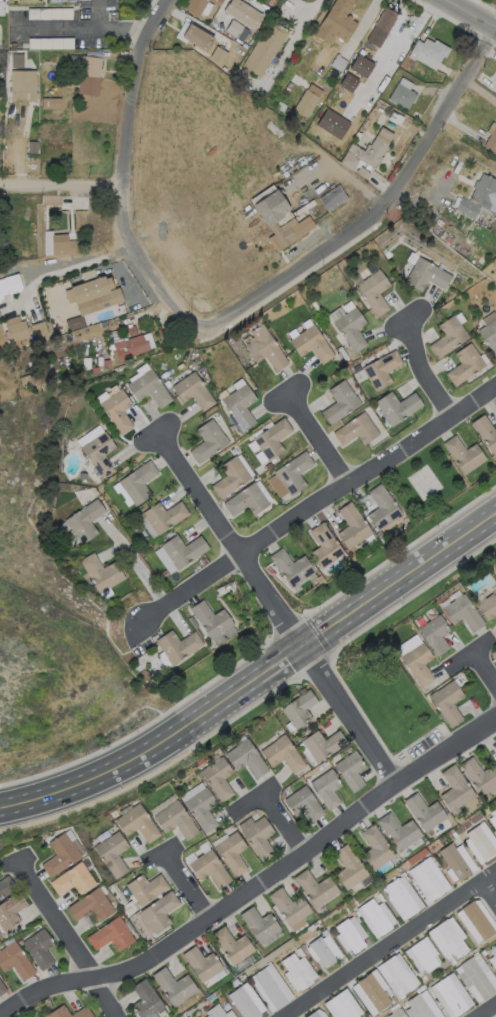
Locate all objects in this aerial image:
building: (74, 1)
building: (55, 2)
building: (216, 2)
building: (272, 2)
building: (196, 6)
building: (1, 8)
road: (471, 13)
building: (49, 14)
building: (245, 15)
road: (301, 25)
road: (109, 27)
building: (336, 27)
road: (61, 29)
building: (234, 29)
building: (381, 35)
building: (198, 38)
building: (51, 44)
building: (13, 46)
building: (312, 48)
building: (264, 50)
building: (429, 51)
building: (219, 56)
building: (18, 61)
building: (338, 63)
building: (46, 65)
building: (89, 70)
building: (351, 70)
building: (333, 73)
building: (494, 76)
building: (495, 81)
building: (23, 85)
building: (368, 86)
building: (247, 88)
road: (480, 91)
building: (68, 94)
building: (402, 97)
building: (60, 101)
building: (308, 101)
building: (281, 107)
building: (55, 113)
building: (491, 141)
building: (33, 148)
road: (19, 149)
building: (369, 151)
building: (362, 173)
road: (121, 176)
road: (60, 185)
building: (330, 196)
building: (478, 197)
building: (304, 199)
building: (51, 200)
building: (85, 206)
road: (385, 213)
building: (271, 218)
building: (446, 240)
building: (61, 245)
building: (387, 255)
road: (73, 266)
building: (426, 276)
building: (333, 285)
building: (3, 288)
building: (84, 292)
building: (374, 293)
building: (74, 322)
building: (38, 329)
building: (351, 330)
building: (18, 333)
building: (448, 337)
building: (489, 337)
building: (312, 345)
building: (131, 348)
building: (265, 349)
building: (342, 354)
building: (106, 363)
building: (86, 364)
building: (465, 365)
building: (382, 371)
road: (424, 373)
building: (27, 381)
building: (150, 389)
building: (193, 392)
building: (105, 393)
building: (340, 403)
building: (240, 407)
building: (397, 407)
building: (118, 412)
building: (356, 431)
building: (486, 433)
road: (316, 437)
building: (272, 439)
building: (208, 442)
building: (99, 454)
building: (463, 455)
building: (268, 466)
building: (293, 474)
building: (231, 478)
building: (138, 484)
building: (246, 501)
road: (316, 505)
building: (382, 509)
building: (165, 517)
building: (86, 521)
building: (352, 526)
building: (379, 535)
building: (324, 546)
building: (184, 551)
road: (131, 561)
building: (204, 561)
building: (291, 568)
building: (495, 570)
building: (495, 572)
building: (102, 573)
building: (488, 606)
road: (277, 610)
building: (463, 613)
building: (211, 620)
building: (435, 635)
building: (177, 646)
road: (467, 652)
road: (290, 653)
building: (495, 656)
building: (416, 662)
road: (483, 671)
road: (76, 686)
building: (447, 703)
building: (299, 710)
building: (495, 737)
building: (323, 745)
building: (283, 755)
building: (247, 759)
building: (351, 771)
building: (479, 777)
building: (218, 779)
building: (327, 789)
building: (455, 790)
road: (38, 795)
road: (250, 797)
building: (304, 805)
building: (202, 810)
building: (424, 813)
building: (494, 815)
building: (176, 821)
road: (280, 821)
building: (138, 824)
building: (399, 834)
building: (259, 839)
building: (480, 843)
building: (376, 849)
road: (159, 852)
building: (232, 854)
building: (58, 855)
building: (112, 855)
road: (13, 858)
building: (454, 862)
building: (349, 868)
building: (210, 869)
building: (72, 879)
building: (413, 880)
building: (428, 881)
road: (255, 882)
road: (183, 884)
building: (5, 887)
building: (146, 889)
building: (316, 889)
road: (488, 895)
building: (401, 898)
building: (90, 905)
building: (289, 907)
building: (10, 911)
building: (160, 912)
building: (376, 917)
building: (477, 920)
building: (356, 921)
building: (259, 925)
building: (109, 934)
building: (325, 934)
building: (350, 937)
road: (65, 938)
building: (451, 939)
road: (392, 944)
building: (232, 946)
building: (38, 948)
building: (494, 951)
building: (322, 952)
building: (300, 953)
building: (424, 957)
building: (14, 960)
building: (450, 960)
building: (202, 965)
building: (256, 967)
building: (297, 972)
building: (398, 975)
building: (241, 977)
building: (424, 979)
building: (475, 979)
building: (1, 988)
building: (179, 988)
building: (270, 989)
building: (372, 993)
building: (450, 997)
building: (145, 1000)
building: (393, 1001)
building: (243, 1003)
building: (342, 1007)
building: (226, 1008)
building: (418, 1008)
building: (58, 1010)
road: (486, 1010)
building: (216, 1012)
building: (397, 1014)
building: (314, 1015)

